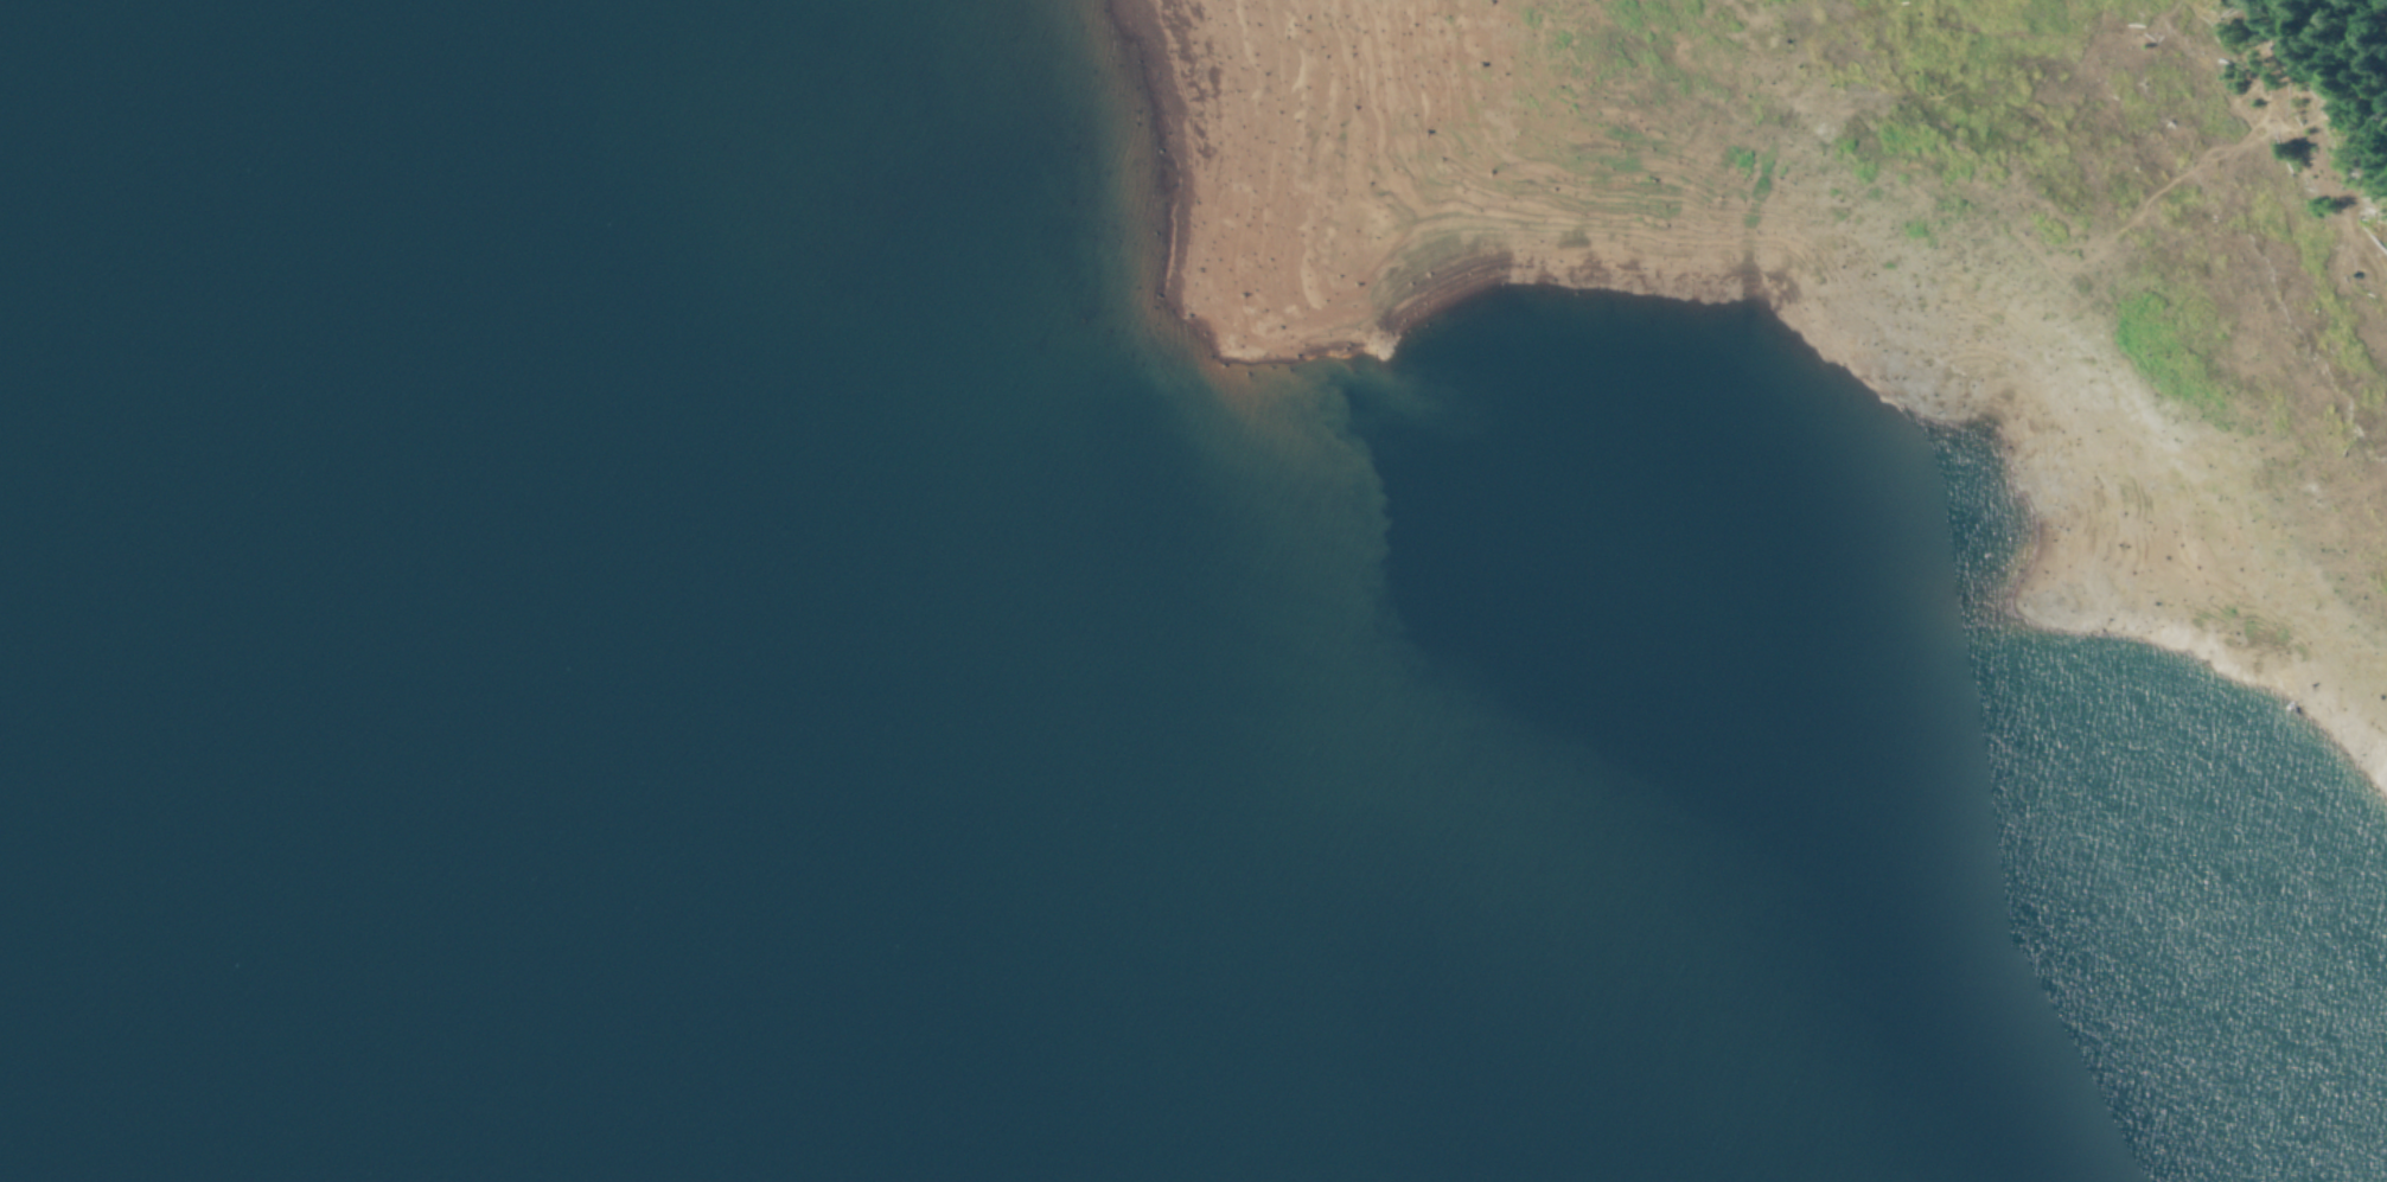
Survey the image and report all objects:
river: (209, 958)

